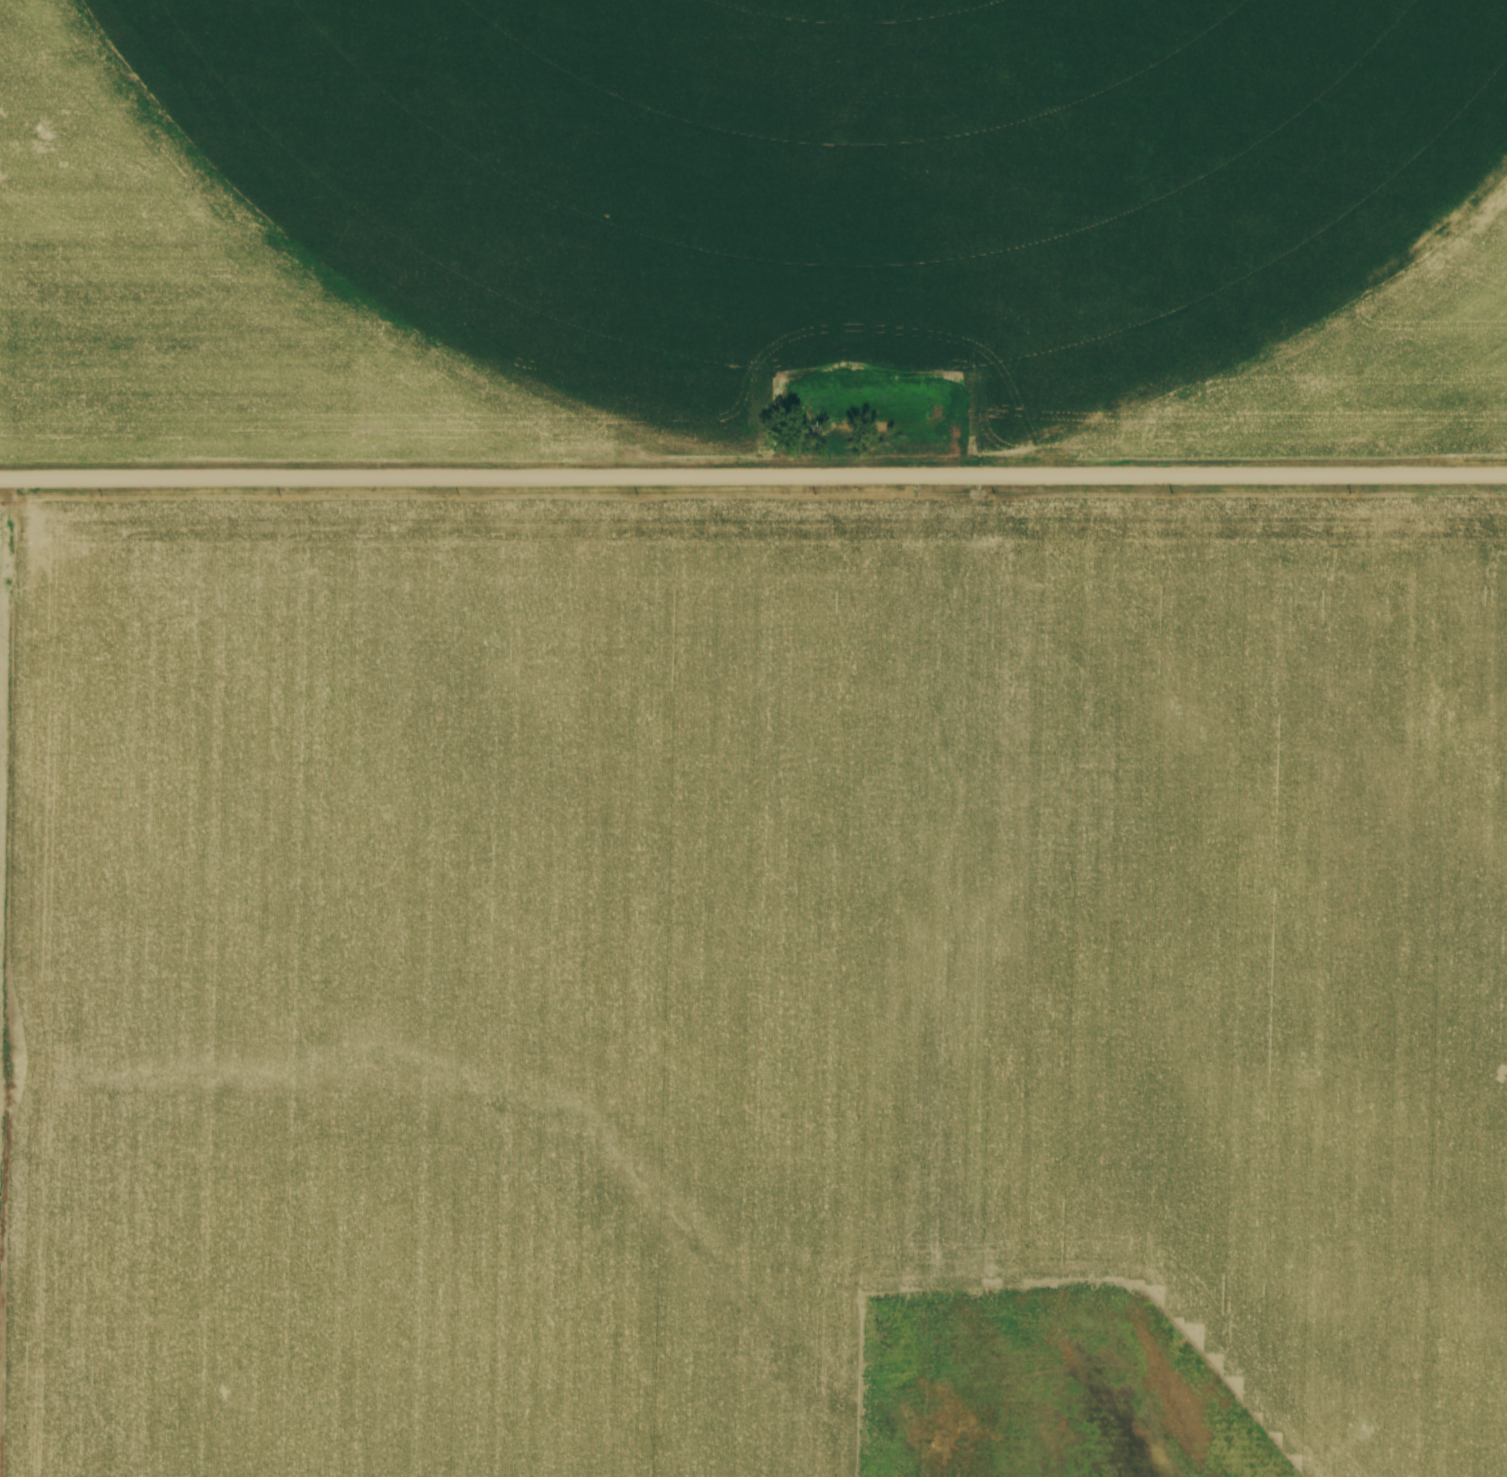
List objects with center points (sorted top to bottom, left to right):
crop: (748, 224)
road: (753, 475)
crop: (754, 987)

